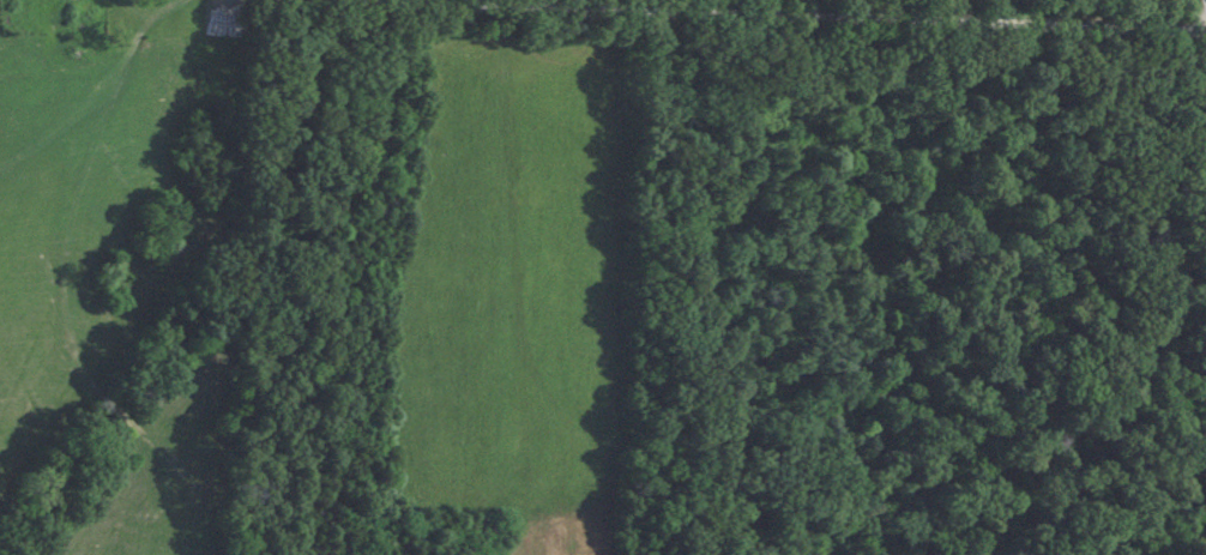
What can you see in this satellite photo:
road: (850, 7)

